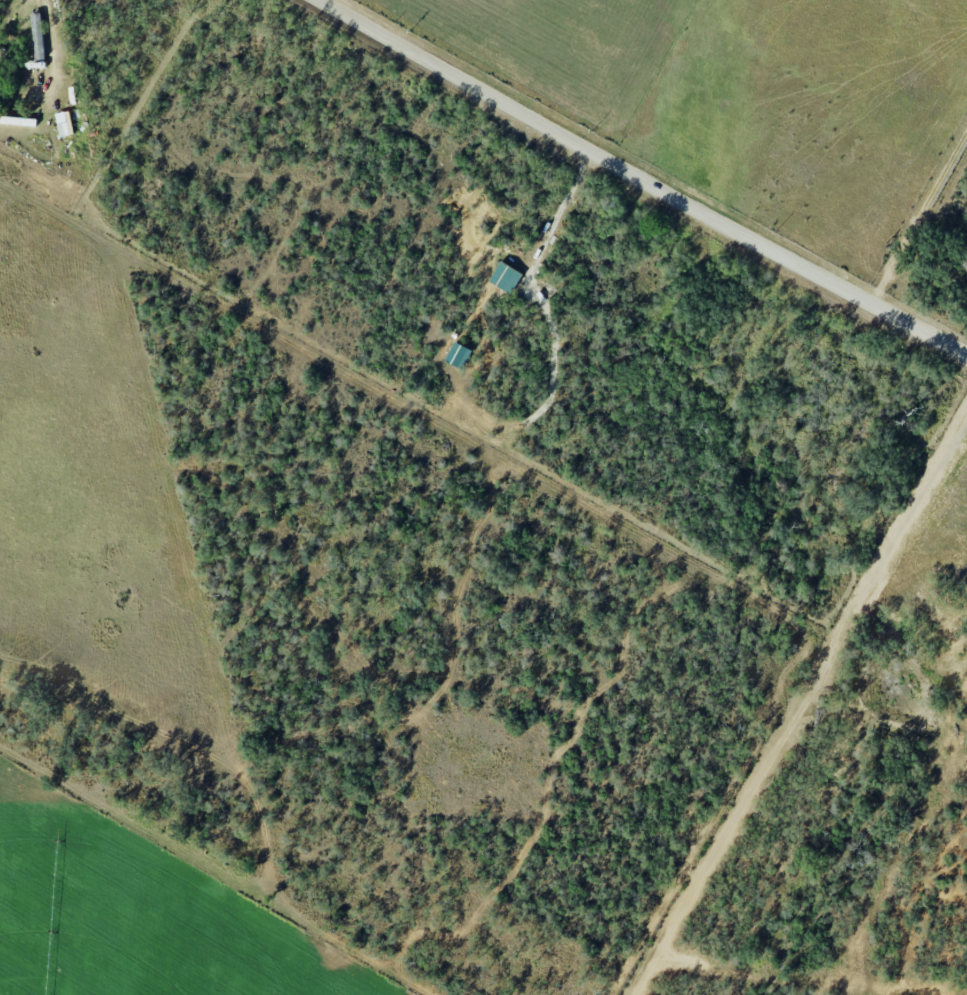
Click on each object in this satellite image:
road: (47, 6)
road: (643, 177)
building: (505, 276)
building: (458, 355)

